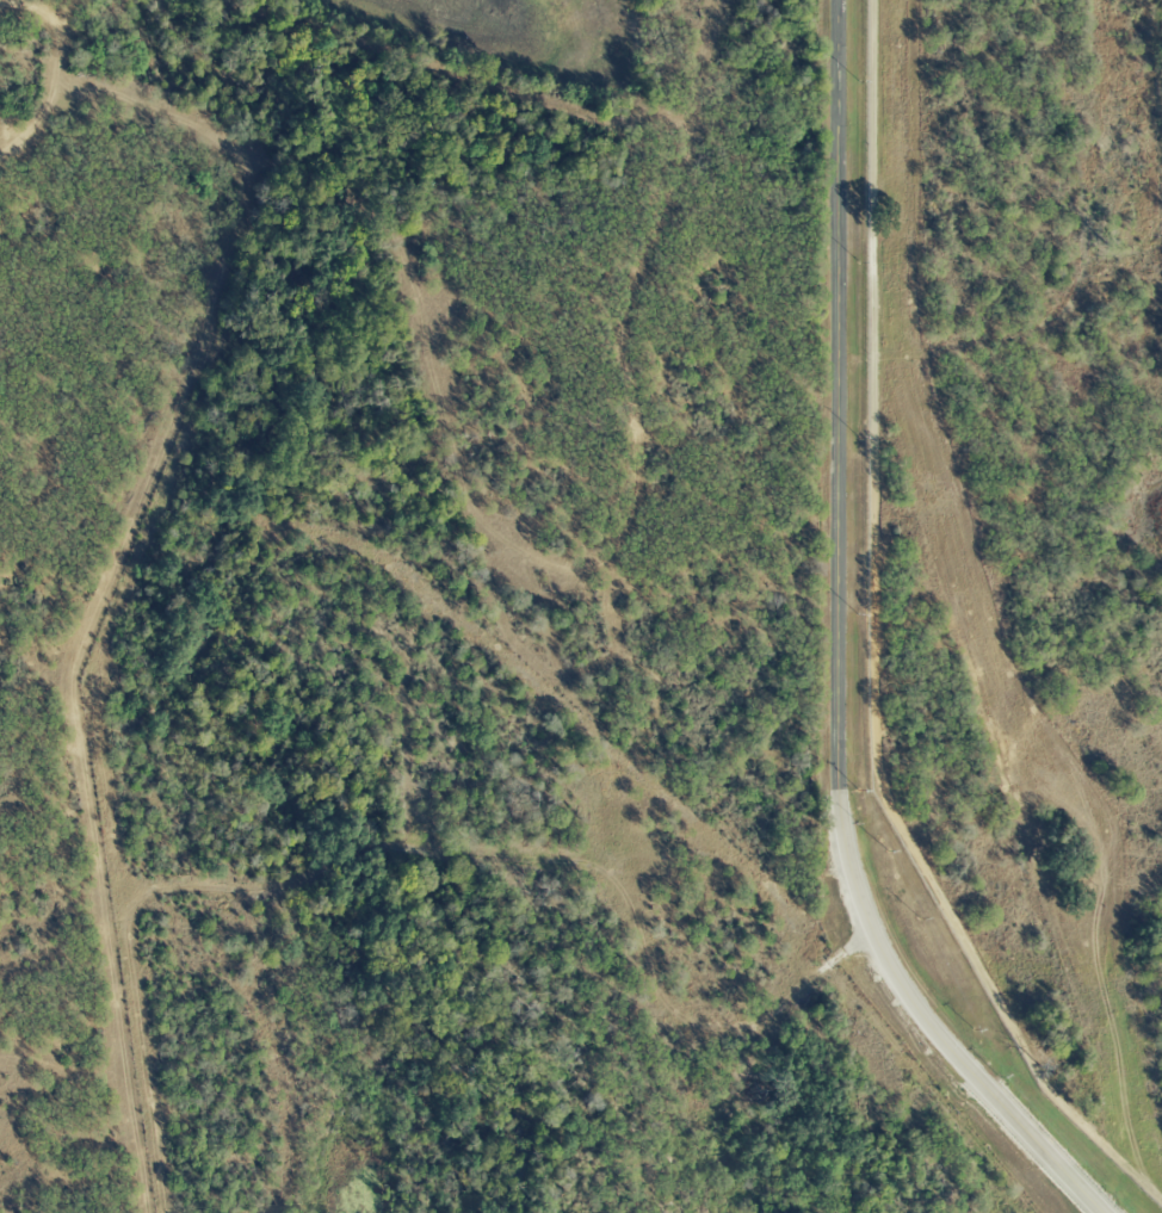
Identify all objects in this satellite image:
road: (963, 346)
road: (874, 648)
road: (835, 650)

